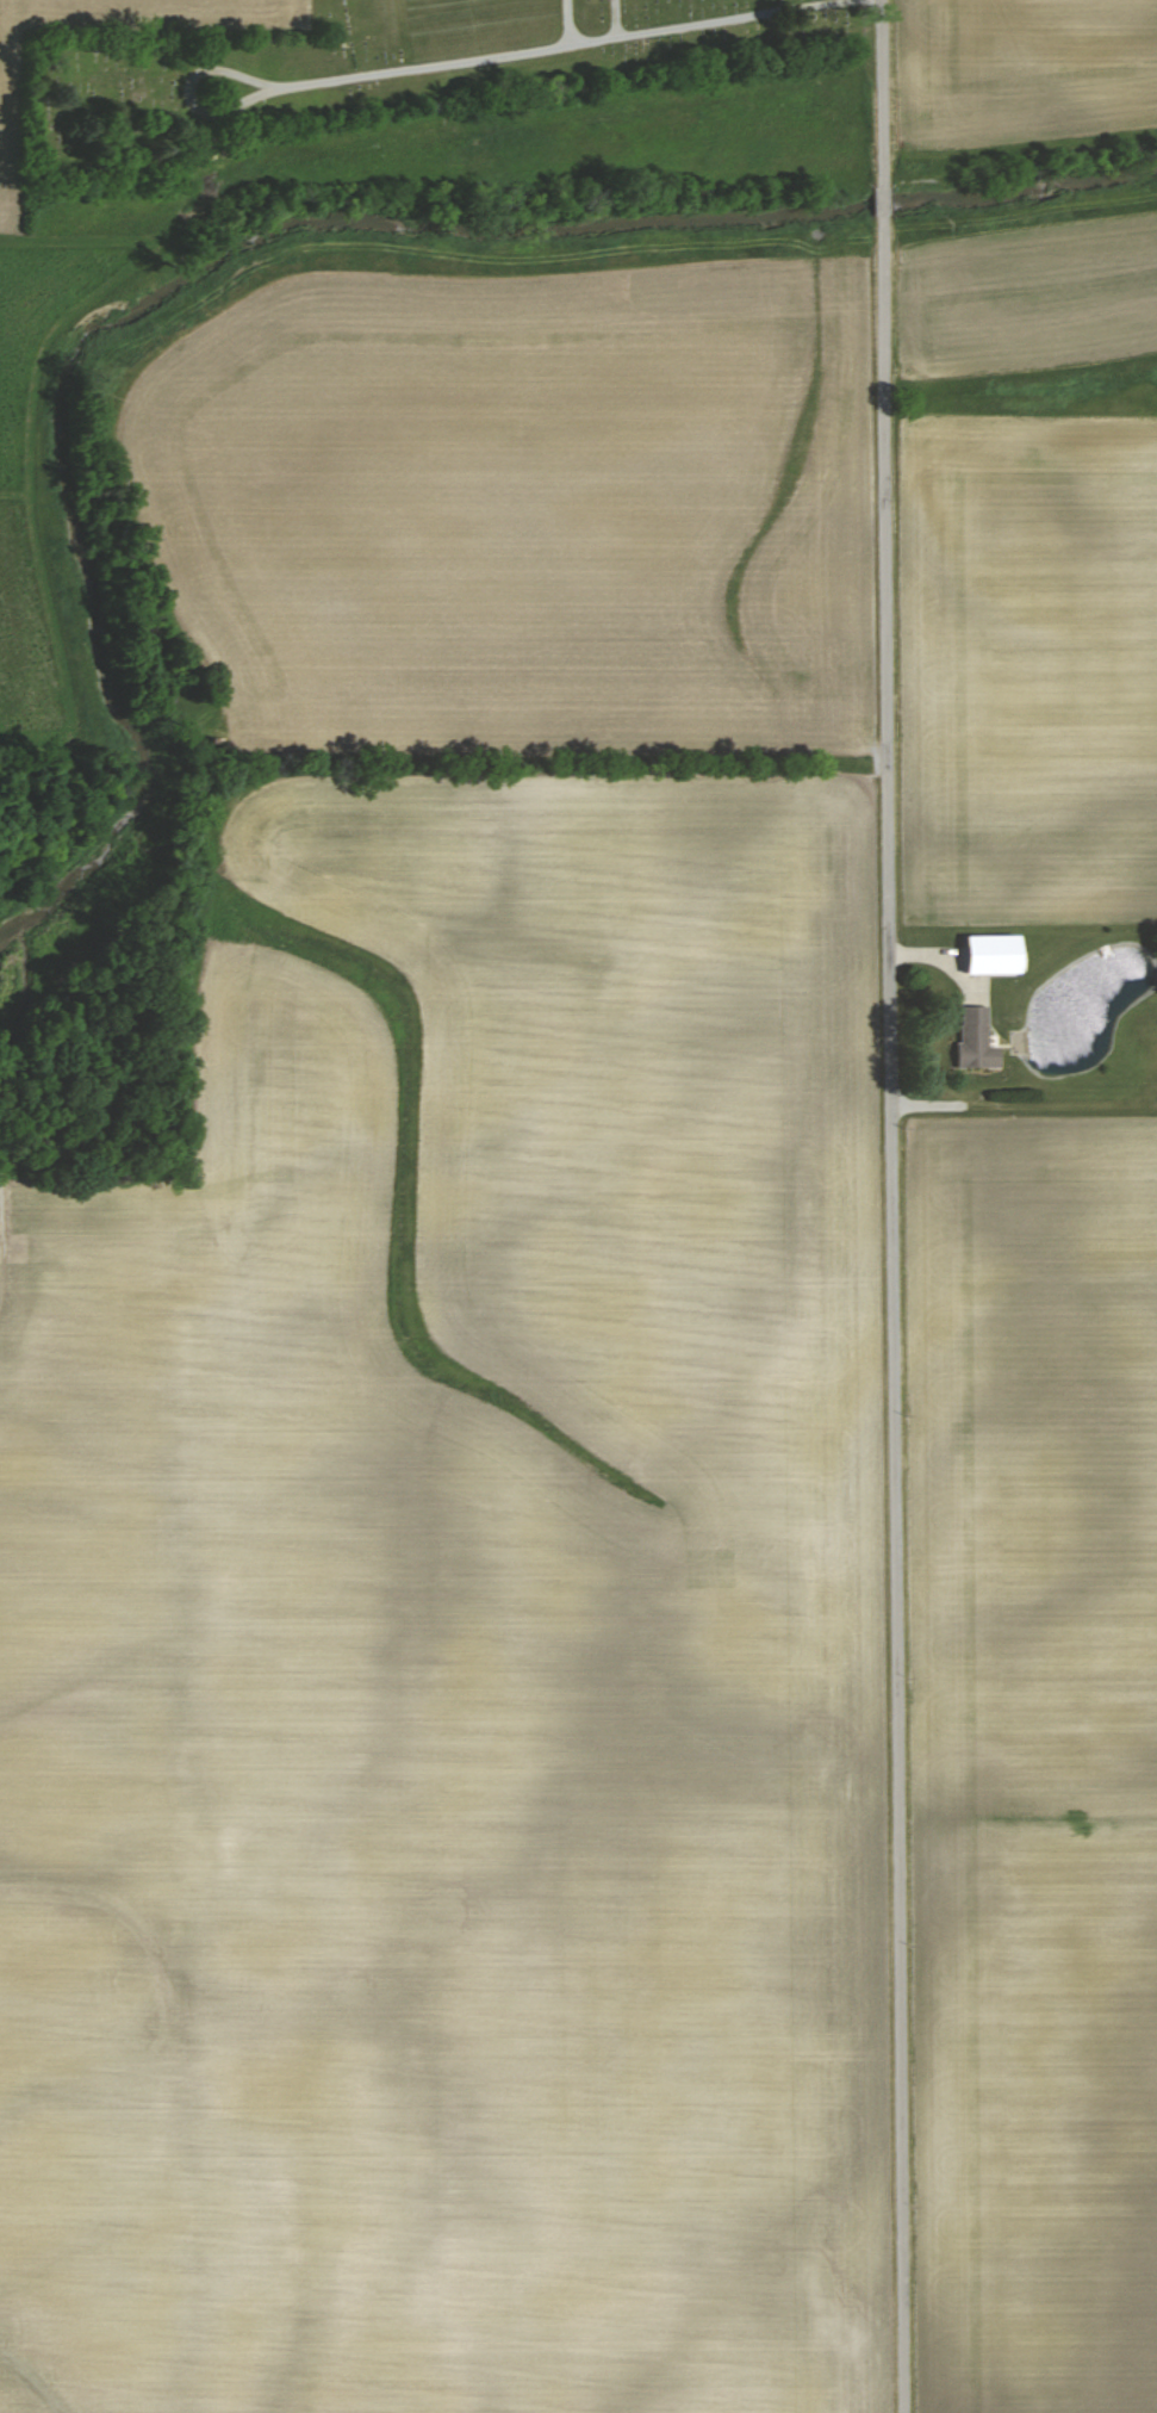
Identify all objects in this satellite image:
building: (988, 954)
building: (974, 1038)
road: (892, 1206)

